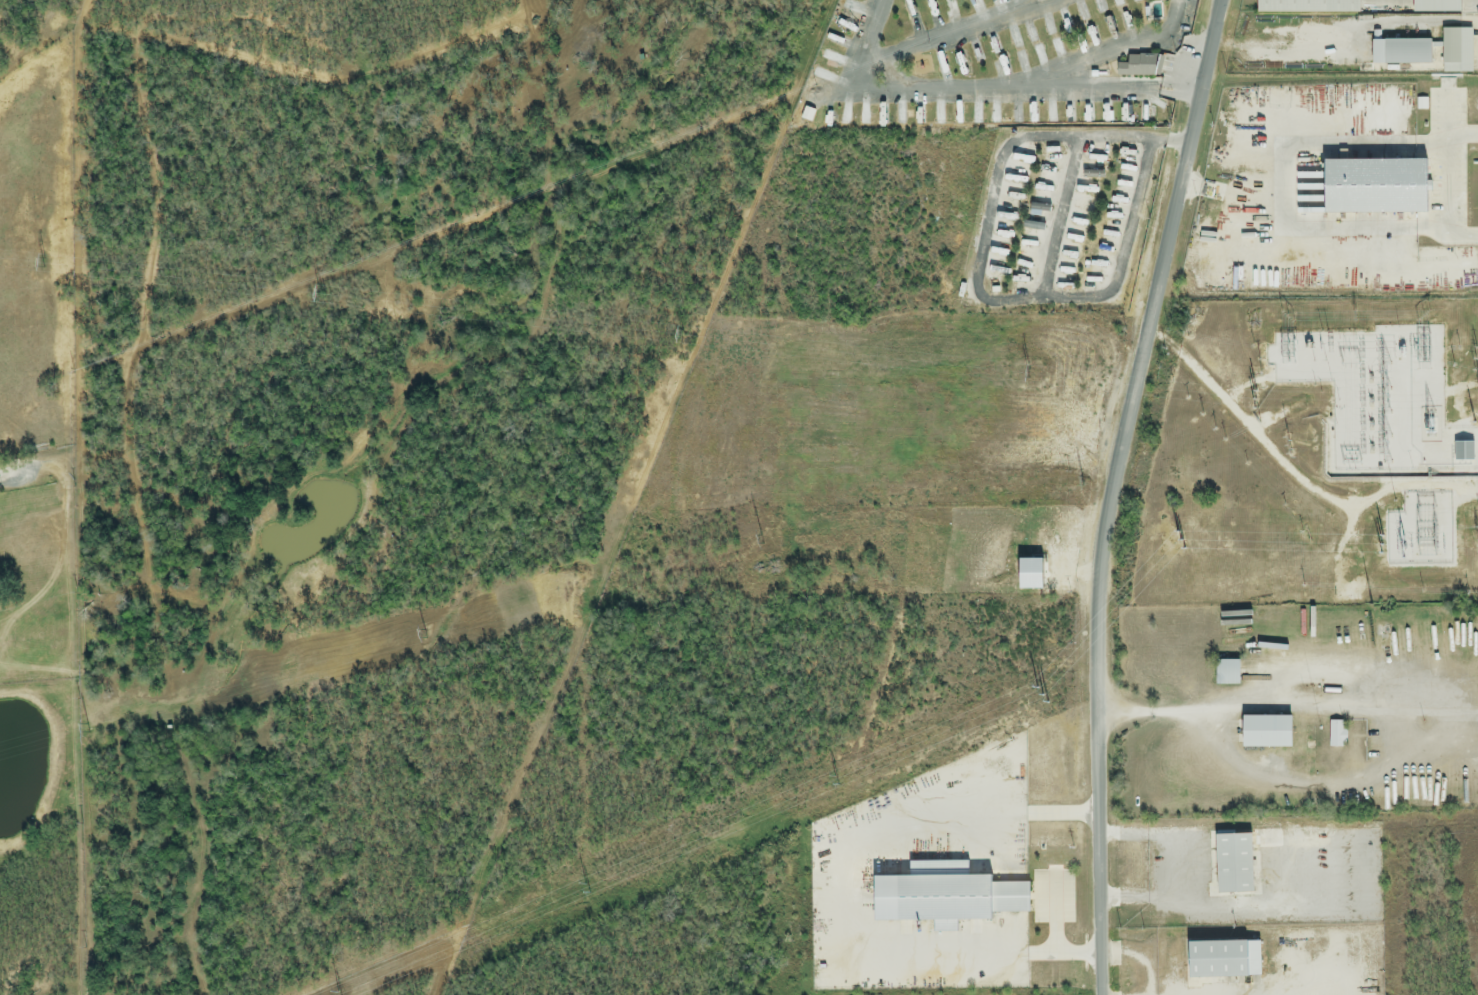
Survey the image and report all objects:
building: (1305, 6)
building: (1434, 6)
road: (1400, 20)
road: (874, 32)
road: (957, 34)
road: (1271, 44)
building: (1455, 51)
building: (1399, 53)
road: (1022, 88)
road: (1095, 90)
road: (1286, 184)
road: (1450, 186)
road: (67, 221)
road: (1060, 221)
power tower: (46, 263)
road: (976, 277)
power tower: (324, 294)
power tower: (682, 335)
power tower: (1351, 364)
power tower: (1031, 374)
power tower: (1390, 379)
power substation: (1381, 396)
power tower: (1255, 399)
power tower: (1390, 402)
power tower: (1390, 425)
power tower: (1477, 426)
power tower: (1289, 445)
power tower: (1390, 448)
road: (66, 451)
power tower: (1352, 464)
road: (25, 466)
power tower: (1083, 482)
road: (1113, 492)
power substation: (1428, 530)
power tower: (1440, 531)
power tower: (763, 540)
power tower: (1376, 545)
power tower: (1417, 545)
power tower: (1441, 545)
power tower: (425, 634)
building: (1225, 672)
power tower: (1050, 688)
road: (1387, 711)
power tower: (87, 729)
building: (1263, 731)
building: (1336, 734)
power tower: (830, 783)
road: (1175, 868)
power tower: (581, 891)
road: (856, 893)
road: (1140, 960)

